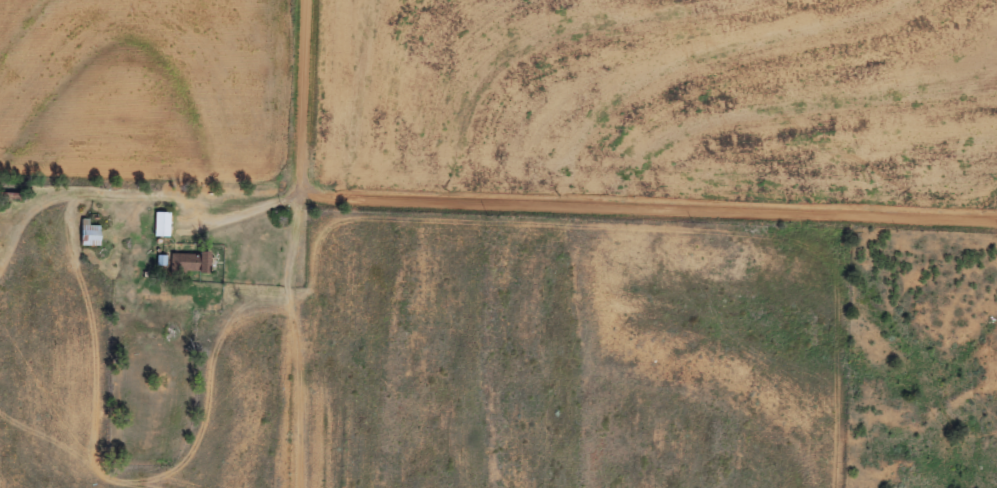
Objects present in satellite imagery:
road: (303, 90)
road: (649, 203)
building: (162, 224)
building: (89, 232)
building: (188, 260)
road: (288, 331)

